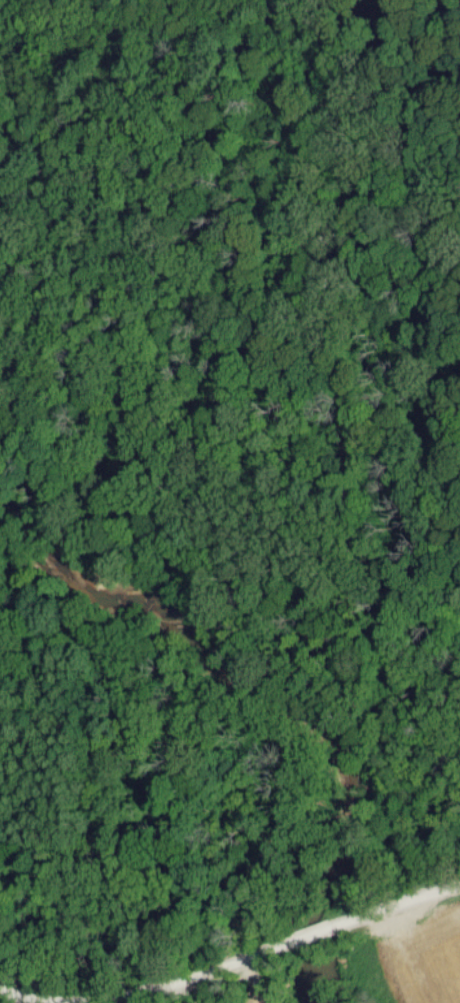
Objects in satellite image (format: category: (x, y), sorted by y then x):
road: (395, 907)
road: (310, 933)
road: (149, 992)

